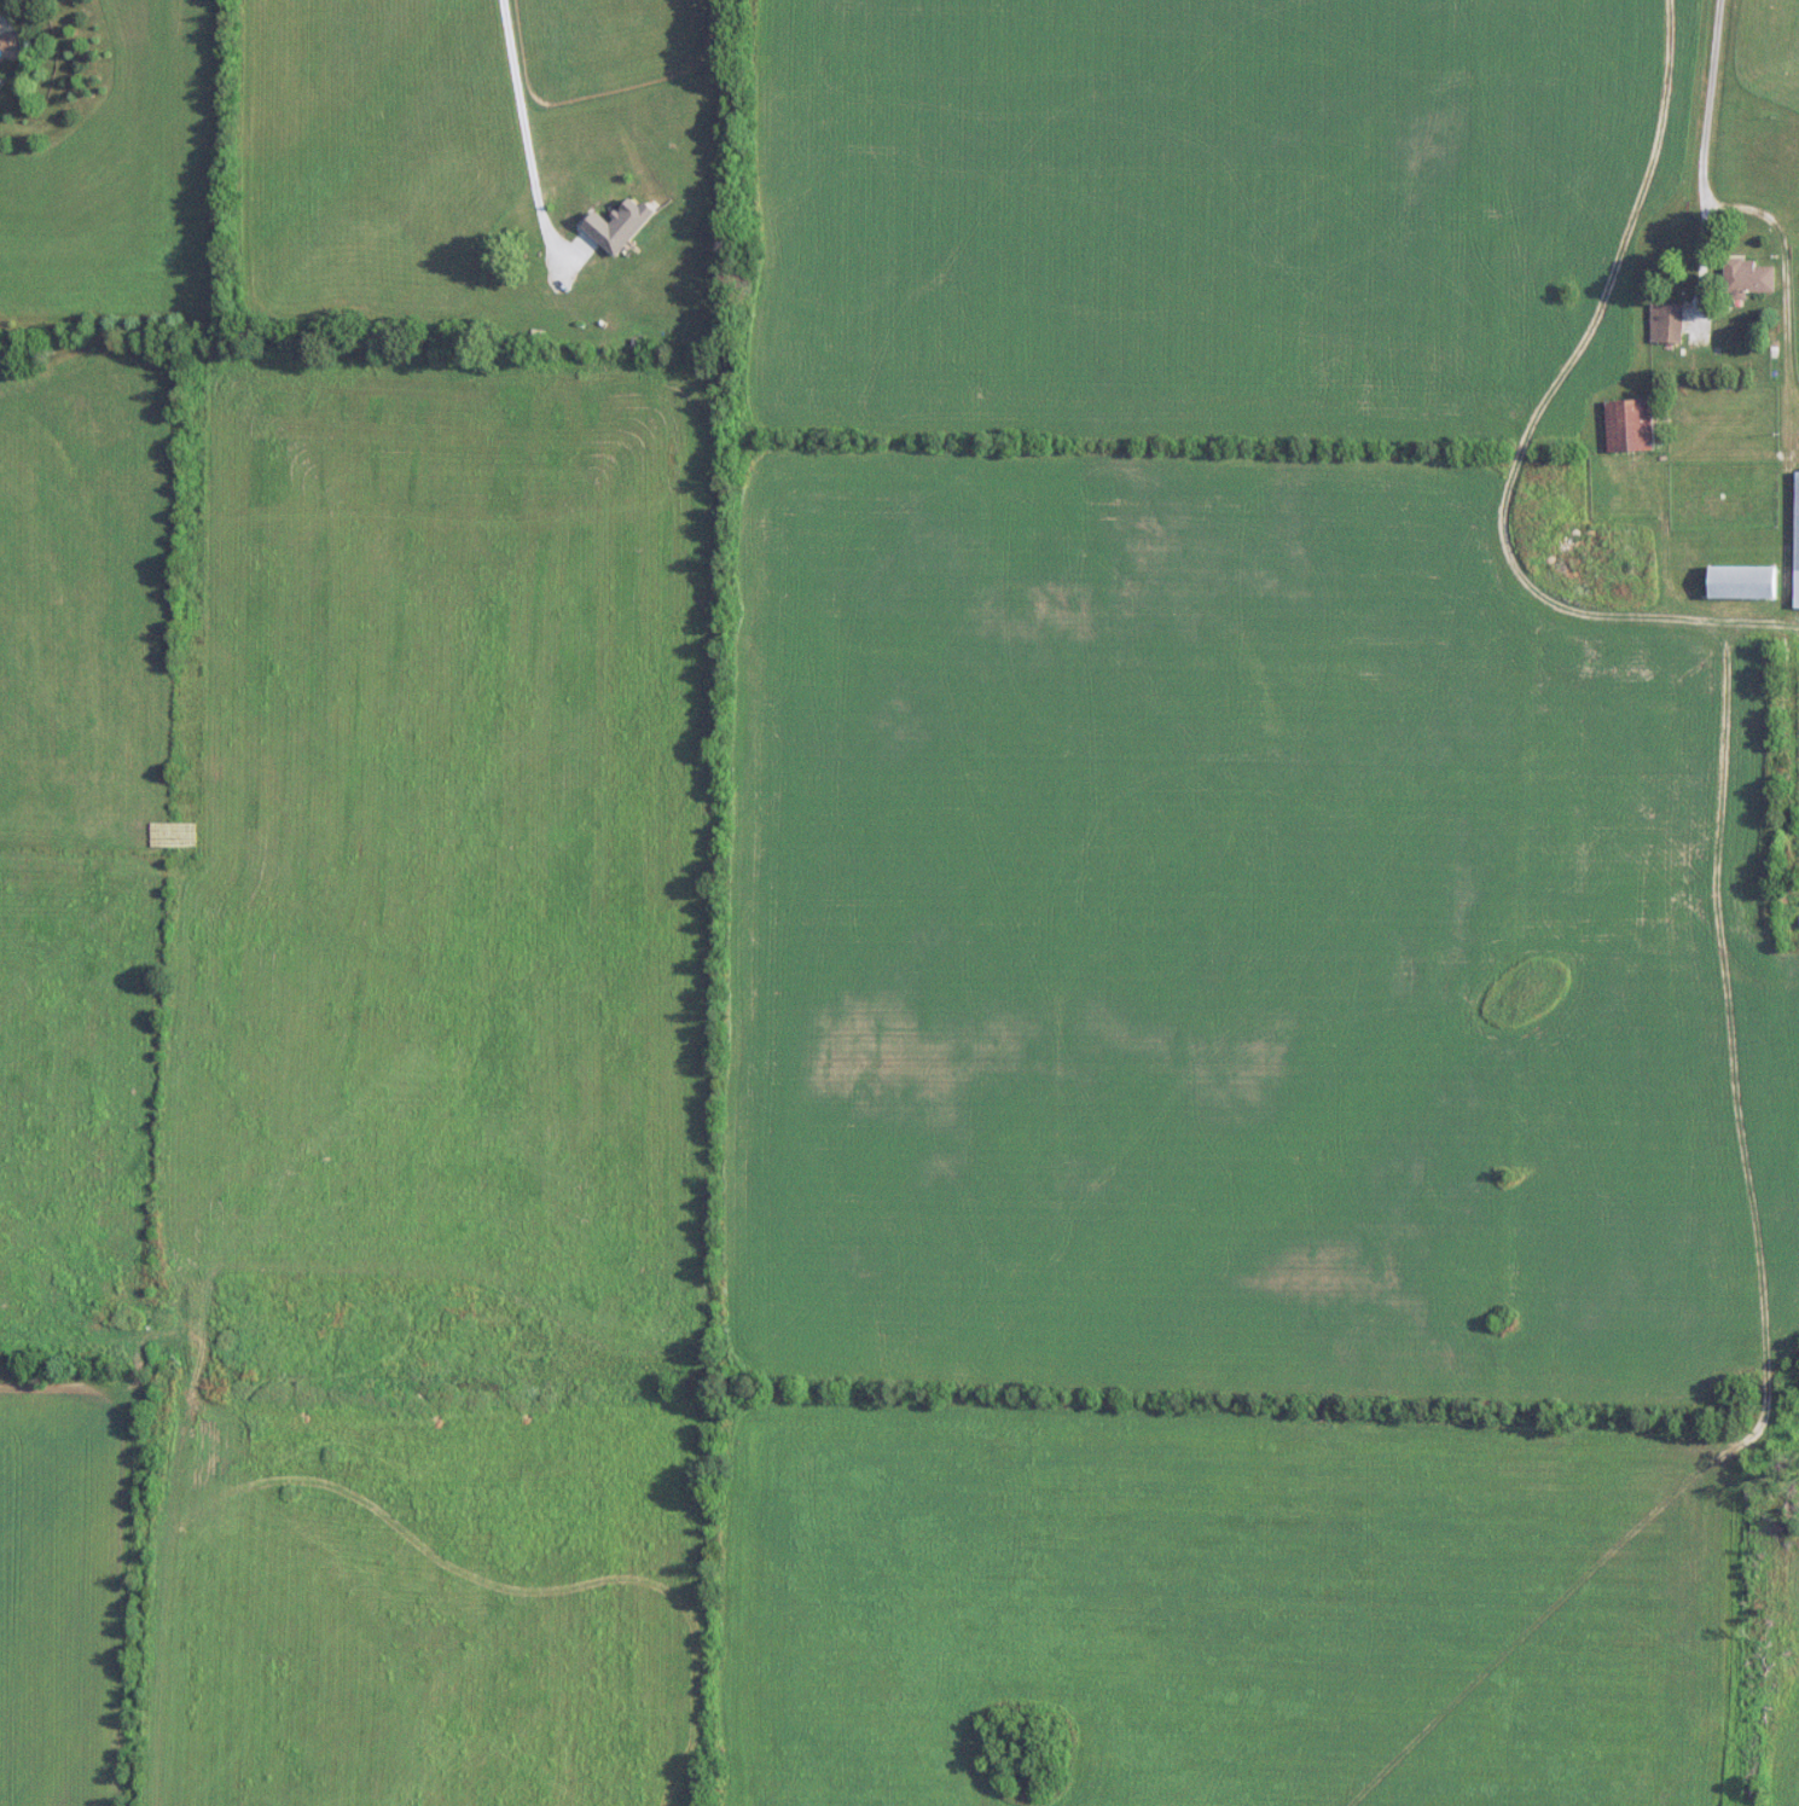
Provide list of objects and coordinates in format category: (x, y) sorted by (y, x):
road: (1720, 92)
road: (527, 146)
building: (1747, 278)
building: (1667, 323)
building: (1630, 425)
building: (1798, 538)
building: (1745, 581)

